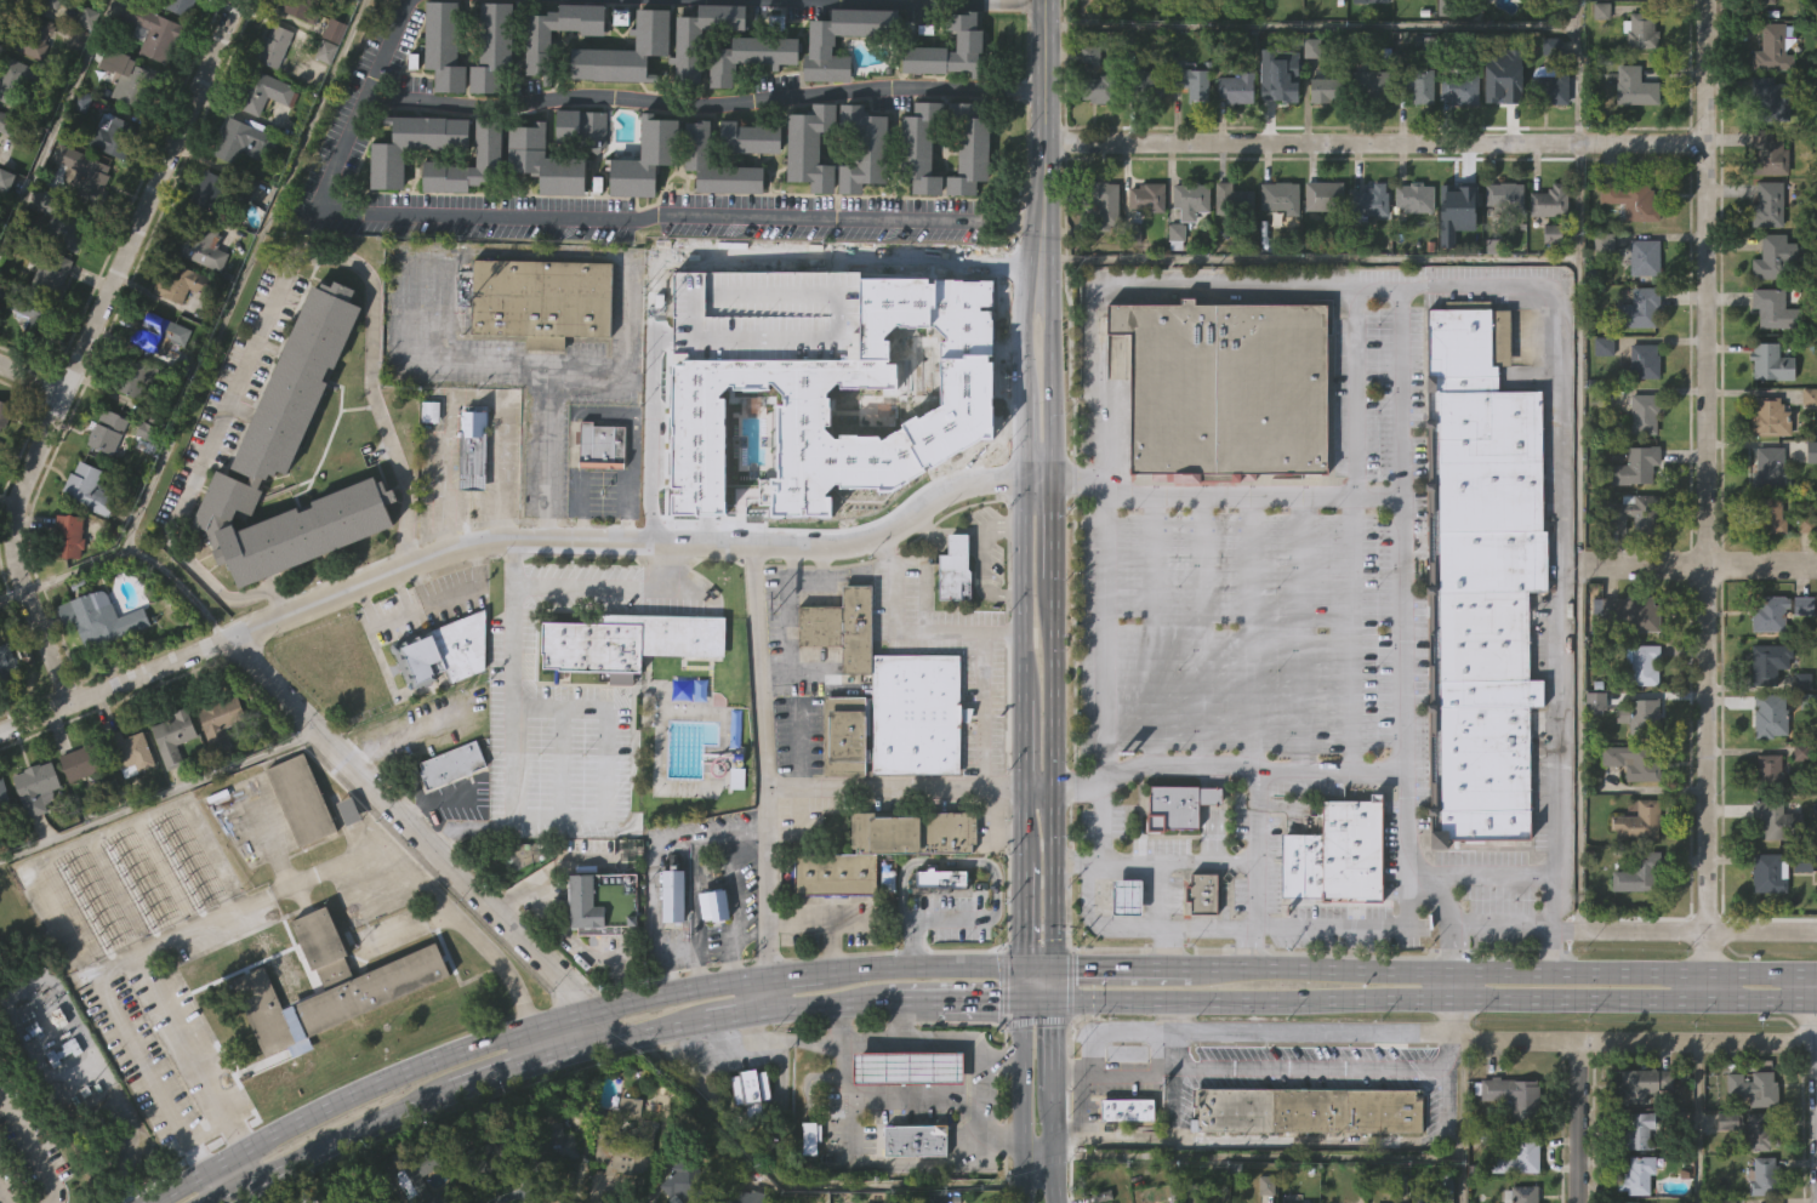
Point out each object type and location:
building: (933, 1)
building: (973, 1)
building: (52, 2)
building: (1761, 2)
building: (183, 6)
building: (1356, 6)
building: (307, 8)
building: (325, 8)
building: (1186, 13)
building: (1141, 15)
building: (1321, 15)
building: (1810, 15)
building: (1411, 16)
building: (1457, 16)
building: (1094, 17)
building: (1231, 17)
building: (1277, 18)
building: (1499, 18)
building: (1544, 19)
building: (355, 22)
road: (1311, 24)
building: (155, 30)
building: (1637, 30)
building: (704, 34)
building: (35, 35)
building: (489, 35)
building: (970, 39)
building: (334, 40)
building: (278, 45)
building: (822, 47)
building: (1772, 47)
building: (625, 49)
building: (542, 52)
building: (750, 55)
building: (298, 58)
building: (1597, 61)
building: (86, 69)
building: (21, 79)
building: (136, 80)
building: (331, 80)
building: (1282, 81)
building: (1144, 82)
building: (1190, 84)
building: (1414, 84)
building: (1503, 84)
building: (1367, 86)
building: (1548, 86)
building: (78, 87)
building: (1633, 87)
building: (1234, 89)
building: (1457, 89)
building: (1093, 90)
building: (1325, 90)
building: (267, 91)
building: (685, 92)
building: (819, 96)
building: (440, 97)
building: (490, 97)
building: (1309, 98)
building: (1768, 98)
building: (947, 99)
building: (323, 102)
building: (623, 102)
road: (704, 102)
building: (536, 103)
building: (1087, 104)
building: (747, 107)
road: (1046, 109)
building: (12, 124)
building: (1276, 125)
building: (1499, 129)
road: (58, 131)
building: (1145, 131)
building: (113, 133)
building: (1191, 133)
building: (1369, 133)
building: (751, 135)
building: (1417, 135)
building: (1454, 137)
building: (1631, 137)
building: (488, 138)
building: (1092, 138)
building: (1234, 138)
building: (1549, 138)
building: (247, 139)
building: (1322, 139)
building: (411, 142)
building: (697, 142)
road: (1375, 143)
building: (811, 146)
building: (922, 146)
building: (864, 147)
building: (969, 147)
building: (526, 152)
building: (1766, 154)
building: (648, 156)
building: (89, 172)
building: (6, 179)
building: (110, 186)
building: (217, 188)
building: (747, 188)
building: (485, 190)
building: (240, 193)
building: (410, 195)
building: (967, 195)
building: (1321, 195)
building: (808, 196)
building: (917, 196)
building: (1145, 196)
building: (1230, 196)
building: (1277, 196)
building: (1502, 196)
building: (1412, 198)
building: (860, 199)
building: (1187, 199)
building: (1630, 199)
building: (1548, 201)
building: (1367, 203)
building: (1100, 204)
building: (1458, 204)
building: (1767, 205)
building: (643, 209)
building: (541, 211)
building: (714, 215)
road: (546, 216)
road: (1012, 218)
building: (68, 221)
building: (2, 229)
building: (1500, 245)
building: (1143, 246)
building: (1320, 246)
building: (1277, 247)
building: (1413, 247)
building: (204, 249)
building: (1230, 249)
building: (1187, 250)
building: (1367, 250)
building: (1547, 252)
building: (1458, 253)
road: (699, 255)
building: (1104, 255)
building: (1772, 257)
building: (1642, 258)
road: (1311, 260)
road: (1026, 272)
building: (55, 276)
building: (1173, 281)
building: (189, 284)
building: (1549, 284)
building: (1600, 292)
road: (274, 293)
building: (199, 298)
building: (540, 300)
building: (1636, 309)
building: (1772, 309)
road: (417, 314)
building: (35, 320)
building: (161, 332)
road: (444, 335)
road: (85, 347)
building: (540, 350)
road: (418, 361)
road: (1027, 361)
building: (1642, 361)
building: (1770, 361)
building: (24, 363)
road: (547, 364)
road: (32, 376)
building: (137, 377)
building: (1220, 389)
road: (1356, 389)
building: (1630, 406)
building: (5, 412)
road: (600, 412)
building: (1771, 416)
building: (133, 428)
building: (110, 429)
road: (1026, 437)
building: (602, 445)
building: (1807, 446)
road: (1093, 447)
building: (472, 450)
building: (294, 460)
building: (427, 461)
building: (4, 463)
road: (1579, 464)
building: (1634, 466)
building: (1771, 466)
road: (1038, 475)
building: (144, 481)
building: (92, 490)
building: (599, 496)
road: (1329, 496)
road: (1707, 498)
building: (469, 500)
building: (1810, 501)
building: (292, 507)
building: (1631, 513)
building: (1766, 515)
building: (72, 537)
road: (627, 545)
road: (1698, 563)
building: (1767, 565)
building: (1627, 570)
building: (1806, 576)
building: (1476, 580)
building: (67, 587)
road: (604, 587)
road: (1025, 592)
road: (1050, 593)
road: (1559, 606)
building: (1778, 610)
building: (1630, 611)
building: (104, 618)
building: (951, 618)
building: (837, 627)
road: (915, 627)
road: (785, 629)
road: (1152, 629)
road: (1203, 629)
road: (1254, 631)
road: (1310, 631)
road: (1356, 632)
road: (1401, 633)
building: (628, 640)
building: (448, 650)
building: (1802, 657)
building: (1767, 661)
building: (1641, 663)
building: (5, 665)
road: (758, 668)
road: (773, 668)
building: (97, 669)
road: (114, 685)
building: (626, 692)
building: (1594, 694)
building: (442, 702)
road: (978, 708)
building: (5, 711)
building: (912, 713)
building: (1770, 715)
building: (227, 717)
building: (1641, 718)
building: (1799, 730)
building: (177, 735)
building: (839, 735)
road: (797, 742)
road: (1023, 749)
building: (133, 751)
building: (1591, 752)
building: (86, 760)
building: (1631, 760)
building: (454, 763)
road: (1333, 766)
building: (217, 772)
building: (1767, 772)
building: (736, 774)
building: (39, 786)
road: (798, 786)
building: (171, 787)
building: (842, 787)
road: (1037, 789)
building: (4, 792)
road: (156, 794)
building: (300, 799)
building: (130, 803)
building: (1798, 803)
building: (1174, 805)
building: (76, 814)
building: (449, 815)
road: (522, 816)
building: (1636, 820)
building: (1776, 820)
road: (1021, 826)
building: (734, 827)
building: (34, 838)
road: (422, 840)
building: (2, 849)
building: (298, 850)
building: (875, 850)
building: (1332, 854)
building: (519, 855)
building: (1175, 855)
building: (346, 861)
road: (1174, 861)
road: (1075, 867)
road: (1251, 868)
building: (1768, 872)
building: (1636, 873)
road: (1488, 877)
road: (650, 879)
building: (883, 883)
building: (1201, 893)
gas station: (1201, 893)
road: (266, 895)
building: (674, 896)
building: (1128, 899)
gas station: (1128, 899)
building: (602, 903)
building: (710, 903)
building: (1333, 905)
road: (735, 906)
building: (929, 908)
gas station: (929, 908)
road: (1020, 916)
building: (1635, 923)
building: (1766, 923)
building: (831, 924)
building: (936, 928)
road: (1400, 928)
road: (1684, 930)
road: (565, 934)
traffic signals: (1020, 936)
building: (1201, 943)
building: (670, 945)
building: (1124, 947)
road: (1161, 948)
road: (1549, 952)
building: (711, 954)
building: (583, 957)
road: (919, 967)
road: (1036, 969)
traffic signals: (1075, 970)
road: (1113, 970)
road: (788, 974)
road: (1496, 974)
road: (1020, 984)
road: (1053, 984)
building: (332, 985)
road: (757, 993)
road: (1434, 996)
road: (945, 998)
traffic signals: (998, 998)
road: (1036, 998)
road: (813, 1003)
road: (1448, 1007)
road: (730, 1015)
traffic signals: (1052, 1024)
building: (352, 1025)
road: (659, 1030)
road: (1816, 1033)
road: (828, 1040)
road: (1473, 1040)
road: (1052, 1043)
road: (1086, 1047)
road: (443, 1055)
road: (768, 1056)
road: (998, 1059)
building: (262, 1061)
road: (530, 1064)
road: (1248, 1065)
building: (910, 1066)
gas station: (910, 1066)
building: (1640, 1084)
building: (744, 1085)
road: (1174, 1088)
building: (1761, 1089)
road: (161, 1093)
road: (910, 1096)
building: (1511, 1096)
road: (1020, 1100)
building: (1123, 1108)
building: (1304, 1110)
building: (904, 1118)
road: (1697, 1122)
road: (1579, 1123)
building: (1636, 1131)
building: (1759, 1133)
building: (747, 1136)
building: (810, 1136)
road: (999, 1136)
gas station: (916, 1139)
building: (622, 1140)
road: (1300, 1141)
road: (336, 1142)
road: (1035, 1142)
building: (547, 1144)
road: (1050, 1146)
building: (1516, 1156)
building: (1124, 1158)
building: (1303, 1159)
road: (947, 1164)
building: (489, 1167)
building: (1726, 1169)
building: (416, 1170)
road: (16, 1174)
building: (1640, 1174)
building: (1764, 1178)
building: (680, 1181)
road: (798, 1185)
building: (808, 1185)
building: (1446, 1186)
building: (1190, 1192)
building: (556, 1193)
building: (1520, 1195)
building: (490, 1196)
building: (933, 1197)
building: (748, 1198)
building: (870, 1198)
building: (1418, 1198)
building: (610, 1199)
building: (893, 1199)
building: (391, 1201)
building: (1627, 1202)

